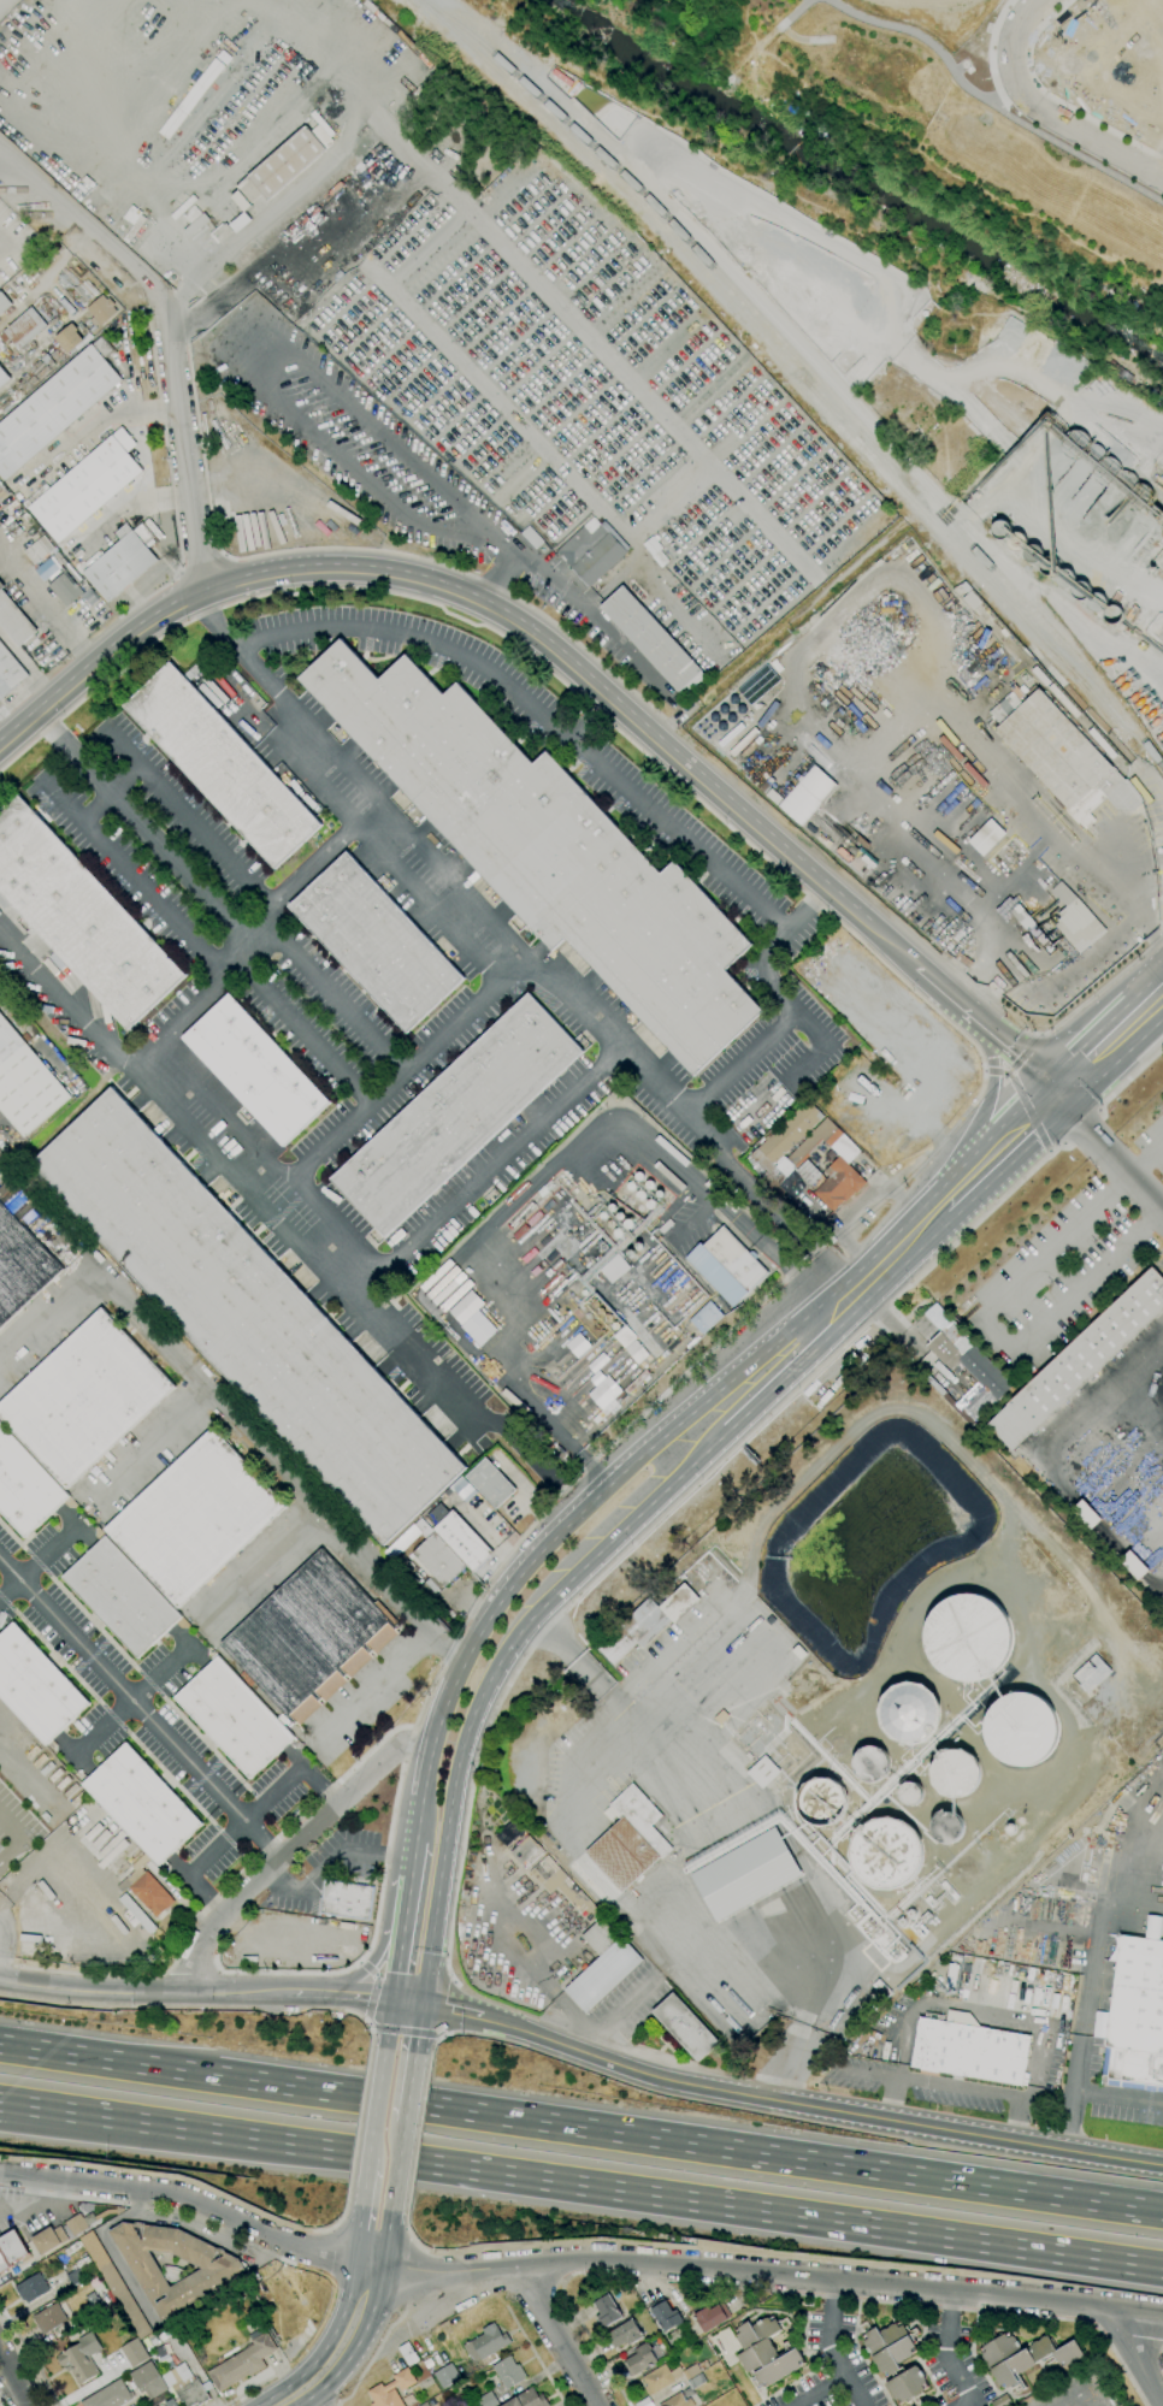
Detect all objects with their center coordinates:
road: (241, 13)
road: (990, 55)
road: (104, 67)
road: (1053, 96)
road: (991, 104)
road: (1044, 112)
road: (1152, 158)
building: (287, 160)
river: (893, 188)
road: (281, 206)
road: (474, 217)
building: (195, 225)
building: (220, 232)
railway: (681, 233)
road: (167, 236)
building: (28, 270)
building: (970, 282)
road: (232, 291)
building: (4, 302)
road: (893, 309)
building: (101, 311)
building: (24, 329)
road: (218, 330)
road: (169, 335)
building: (69, 338)
road: (797, 347)
railway: (777, 362)
railway: (792, 363)
road: (473, 374)
building: (4, 378)
building: (55, 407)
building: (1075, 444)
storage tank: (1075, 444)
building: (1108, 471)
storage tank: (1108, 471)
parking lot: (412, 484)
building: (87, 486)
building: (2, 492)
road: (172, 501)
road: (666, 501)
building: (19, 512)
building: (28, 519)
road: (609, 524)
building: (13, 530)
building: (1000, 530)
storage tank: (1000, 530)
building: (531, 537)
building: (1016, 542)
storage tank: (1016, 542)
road: (1063, 543)
road: (352, 549)
building: (39, 550)
building: (592, 551)
building: (655, 551)
building: (1033, 552)
storage tank: (1033, 552)
road: (224, 556)
building: (1158, 560)
building: (123, 562)
road: (202, 564)
building: (1047, 566)
storage tank: (1047, 566)
road: (554, 567)
building: (46, 569)
building: (1153, 571)
road: (179, 573)
road: (498, 579)
building: (1063, 579)
storage tank: (1063, 579)
road: (574, 586)
building: (64, 590)
road: (650, 591)
building: (1080, 591)
storage tank: (1080, 591)
building: (1097, 602)
storage tank: (1097, 602)
road: (48, 604)
road: (492, 608)
road: (586, 610)
building: (1114, 614)
storage tank: (1114, 614)
building: (14, 621)
building: (654, 642)
road: (60, 661)
road: (26, 667)
building: (10, 672)
building: (191, 672)
road: (1069, 694)
road: (903, 699)
road: (270, 710)
road: (539, 714)
road: (7, 722)
building: (1149, 728)
road: (122, 749)
building: (1059, 756)
building: (222, 765)
road: (350, 773)
road: (107, 794)
building: (808, 796)
building: (773, 797)
road: (1034, 797)
road: (61, 802)
road: (362, 832)
building: (986, 838)
building: (823, 840)
building: (548, 851)
building: (869, 859)
road: (454, 880)
road: (200, 889)
building: (79, 917)
building: (1075, 920)
building: (1033, 930)
road: (907, 933)
building: (376, 942)
road: (1029, 945)
road: (1099, 948)
road: (982, 952)
road: (333, 995)
road: (65, 1000)
road: (300, 1028)
road: (990, 1028)
road: (1038, 1036)
building: (581, 1042)
road: (1109, 1045)
road: (817, 1046)
road: (1016, 1063)
road: (406, 1068)
building: (255, 1069)
road: (986, 1071)
road: (1130, 1077)
building: (25, 1082)
road: (917, 1083)
road: (716, 1089)
road: (991, 1095)
traffic signals: (1056, 1098)
road: (1099, 1110)
road: (1028, 1111)
parking lot: (0, 1115)
building: (456, 1115)
road: (1080, 1127)
building: (789, 1131)
building: (13, 1140)
building: (814, 1141)
road: (1063, 1145)
building: (844, 1148)
parking lot: (4, 1149)
road: (1050, 1151)
road: (1000, 1153)
road: (1109, 1153)
road: (1145, 1153)
building: (830, 1154)
road: (270, 1155)
road: (931, 1155)
building: (760, 1165)
building: (785, 1166)
road: (489, 1171)
road: (0, 1174)
road: (544, 1175)
building: (810, 1175)
building: (838, 1184)
road: (771, 1205)
road: (1162, 1206)
building: (531, 1220)
building: (513, 1236)
road: (307, 1248)
road: (885, 1263)
building: (20, 1266)
building: (726, 1266)
building: (465, 1307)
building: (247, 1316)
building: (706, 1317)
road: (47, 1319)
building: (478, 1329)
road: (992, 1331)
building: (625, 1337)
building: (945, 1337)
building: (1079, 1361)
building: (597, 1362)
road: (778, 1371)
building: (966, 1376)
road: (1127, 1379)
building: (636, 1382)
building: (604, 1394)
building: (84, 1399)
building: (604, 1412)
road: (229, 1418)
road: (1064, 1426)
road: (158, 1442)
building: (491, 1483)
building: (25, 1486)
building: (461, 1489)
road: (592, 1501)
road: (665, 1515)
building: (1086, 1515)
building: (195, 1518)
building: (411, 1536)
building: (457, 1536)
road: (36, 1561)
building: (438, 1563)
building: (1133, 1566)
road: (579, 1571)
road: (266, 1573)
road: (1161, 1580)
building: (122, 1596)
building: (647, 1622)
building: (968, 1637)
building: (309, 1638)
building: (1091, 1674)
road: (380, 1680)
building: (35, 1686)
road: (132, 1701)
road: (619, 1707)
road: (141, 1708)
building: (910, 1713)
building: (235, 1718)
building: (1021, 1728)
building: (870, 1763)
road: (426, 1770)
building: (763, 1772)
building: (955, 1773)
building: (910, 1793)
building: (822, 1803)
building: (141, 1804)
road: (418, 1819)
road: (243, 1822)
building: (946, 1827)
road: (64, 1829)
building: (509, 1833)
road: (14, 1834)
building: (630, 1839)
road: (291, 1849)
building: (526, 1852)
building: (885, 1852)
road: (412, 1858)
road: (333, 1861)
road: (441, 1872)
building: (745, 1873)
building: (562, 1887)
building: (147, 1888)
building: (347, 1900)
road: (406, 1907)
building: (925, 1917)
road: (376, 1921)
building: (902, 1922)
building: (1151, 1926)
building: (922, 1928)
road: (358, 1962)
building: (602, 1964)
road: (366, 1968)
road: (367, 1968)
road: (397, 1968)
road: (218, 1969)
road: (167, 1971)
road: (193, 1971)
road: (1092, 1974)
road: (377, 1975)
building: (950, 1976)
road: (547, 1985)
building: (882, 1988)
road: (146, 1993)
road: (342, 1996)
traffic signals: (392, 2000)
road: (407, 2002)
traffic signals: (423, 2003)
road: (451, 2010)
road: (980, 2011)
road: (612, 2017)
road: (809, 2017)
building: (1137, 2017)
road: (366, 2022)
road: (368, 2023)
road: (388, 2024)
road: (380, 2027)
building: (685, 2027)
road: (418, 2028)
road: (441, 2035)
road: (436, 2041)
building: (969, 2051)
road: (408, 2088)
road: (960, 2088)
road: (0, 2101)
road: (376, 2103)
road: (817, 2106)
road: (359, 2126)
road: (581, 2128)
road: (419, 2134)
road: (0, 2164)
road: (396, 2166)
road: (364, 2181)
road: (581, 2185)
road: (29, 2203)
road: (57, 2204)
road: (335, 2224)
building: (76, 2225)
road: (356, 2234)
road: (409, 2234)
building: (48, 2240)
building: (11, 2251)
road: (574, 2264)
road: (18, 2269)
building: (219, 2272)
building: (76, 2277)
building: (114, 2284)
building: (31, 2288)
road: (832, 2293)
road: (801, 2295)
road: (950, 2304)
building: (94, 2307)
building: (607, 2311)
building: (666, 2316)
building: (710, 2317)
building: (48, 2318)
road: (370, 2318)
building: (625, 2334)
road: (561, 2337)
building: (485, 2345)
road: (325, 2347)
building: (889, 2347)
building: (764, 2352)
building: (134, 2353)
building: (408, 2354)
road: (29, 2355)
road: (536, 2357)
building: (81, 2358)
building: (1022, 2358)
road: (1137, 2358)
building: (639, 2359)
road: (832, 2359)
building: (242, 2364)
road: (1161, 2364)
road: (955, 2365)
road: (279, 2370)
building: (509, 2372)
building: (691, 2372)
building: (175, 2375)
building: (447, 2376)
road: (16, 2378)
building: (659, 2378)
building: (148, 2380)
building: (907, 2386)
road: (252, 2389)
building: (391, 2389)
road: (816, 2390)
building: (191, 2394)
building: (684, 2394)
building: (110, 2395)
building: (527, 2399)
building: (488, 2400)
building: (1000, 2401)
building: (170, 2402)
road: (314, 2402)
building: (424, 2405)

